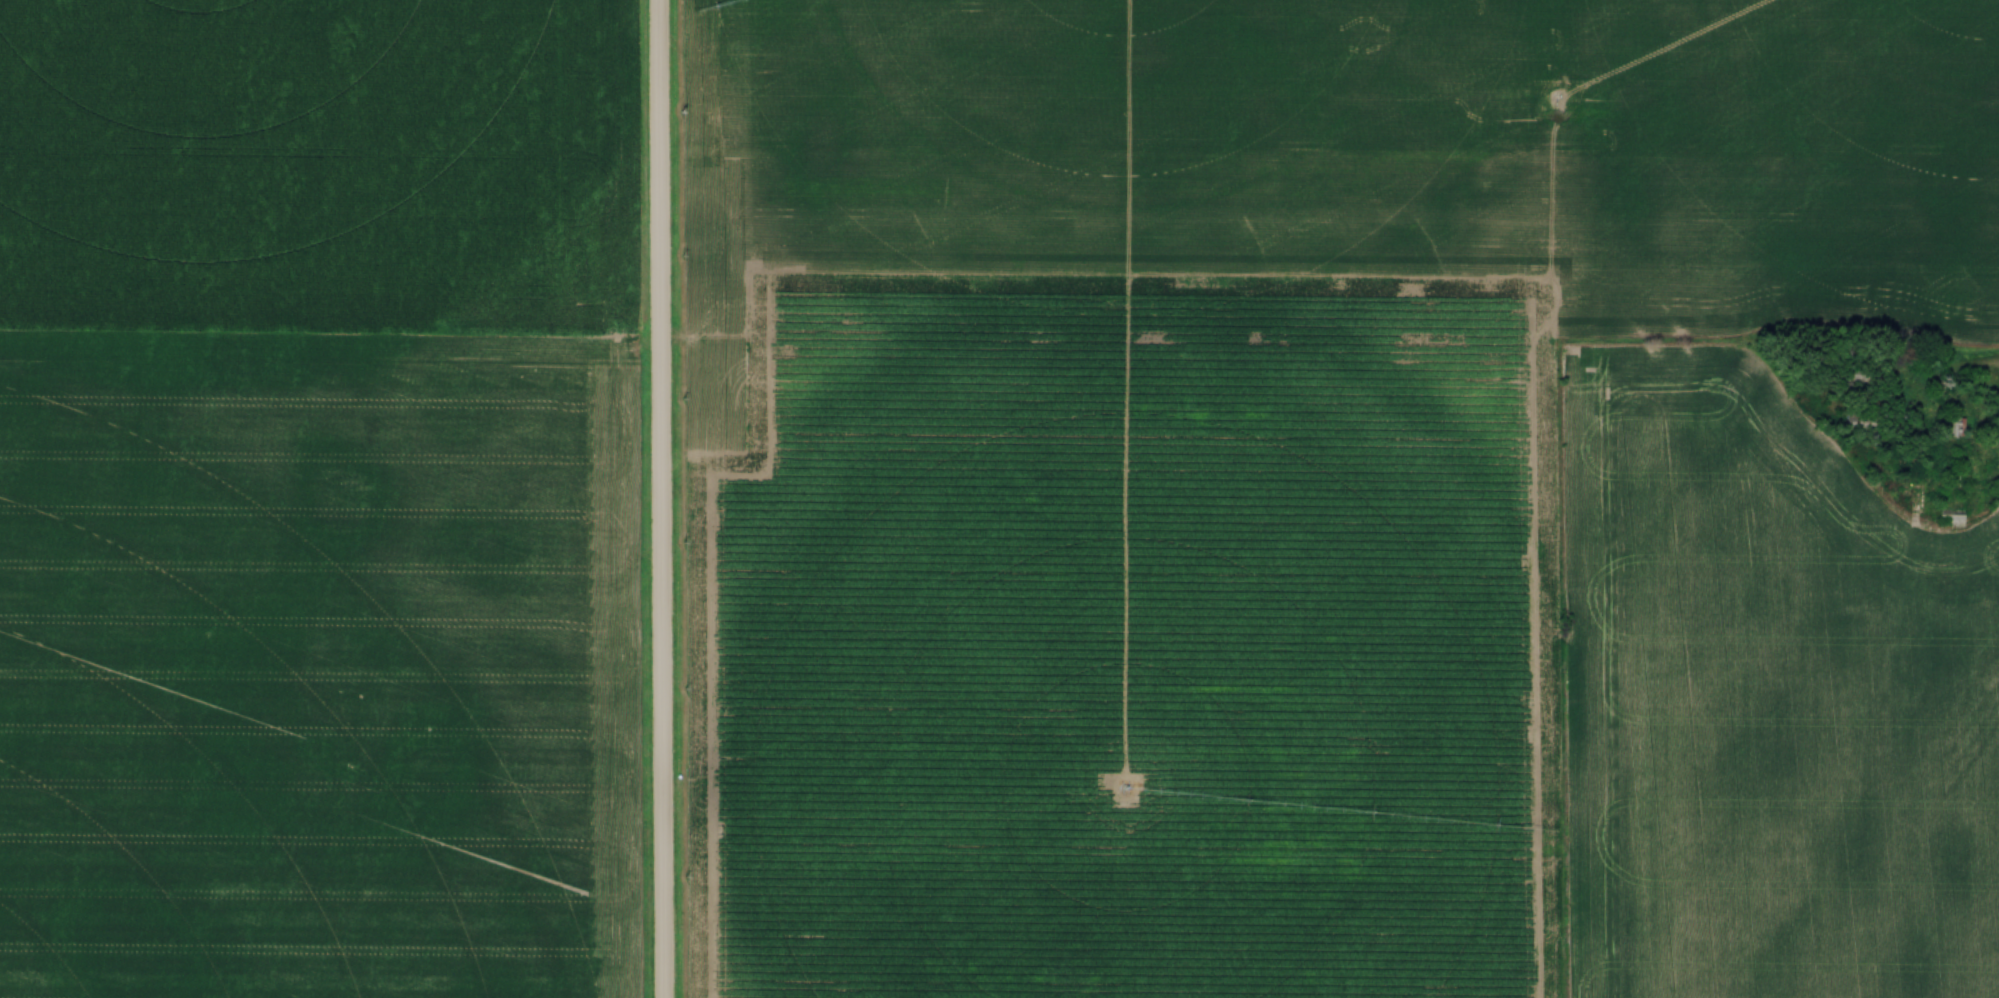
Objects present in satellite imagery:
road: (1945, 369)
building: (1862, 378)
building: (1864, 425)
building: (1954, 427)
road: (659, 499)

